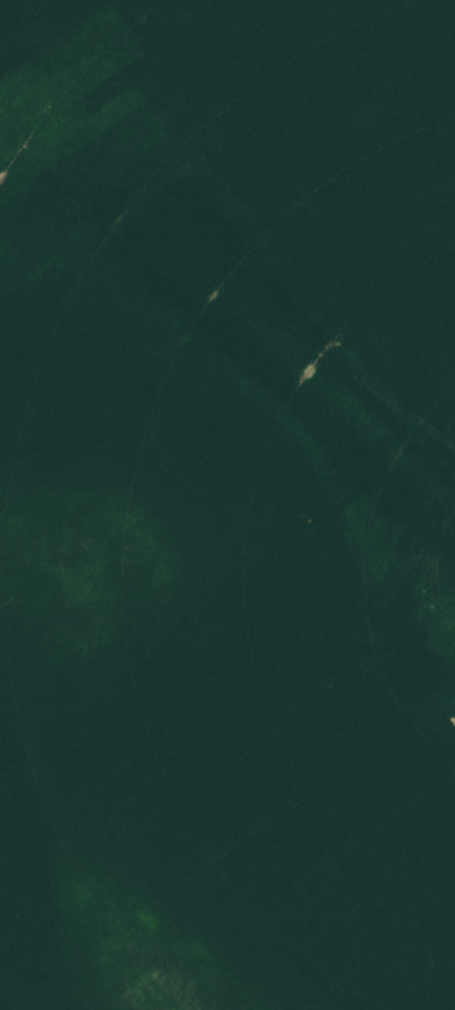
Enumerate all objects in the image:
crop: (227, 505)

